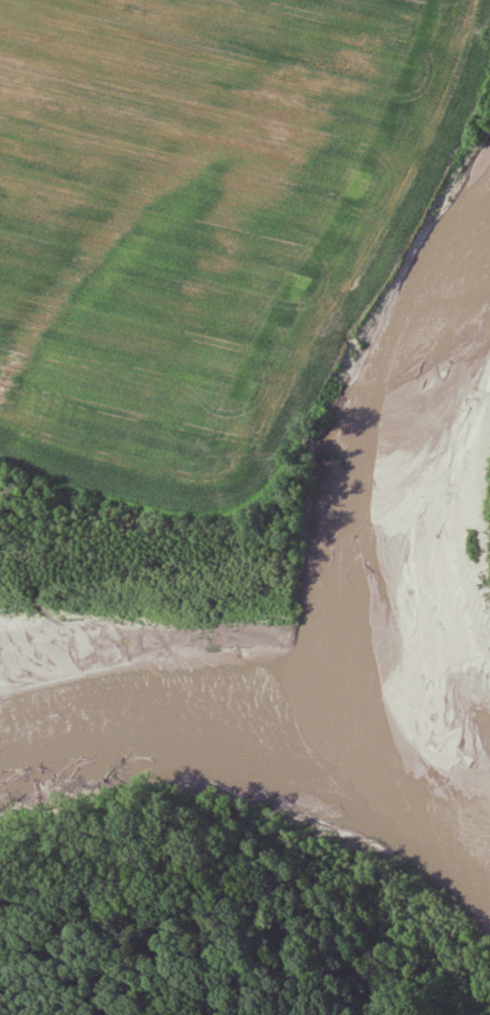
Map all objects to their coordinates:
river: (250, 628)
park: (216, 890)
road: (175, 952)

